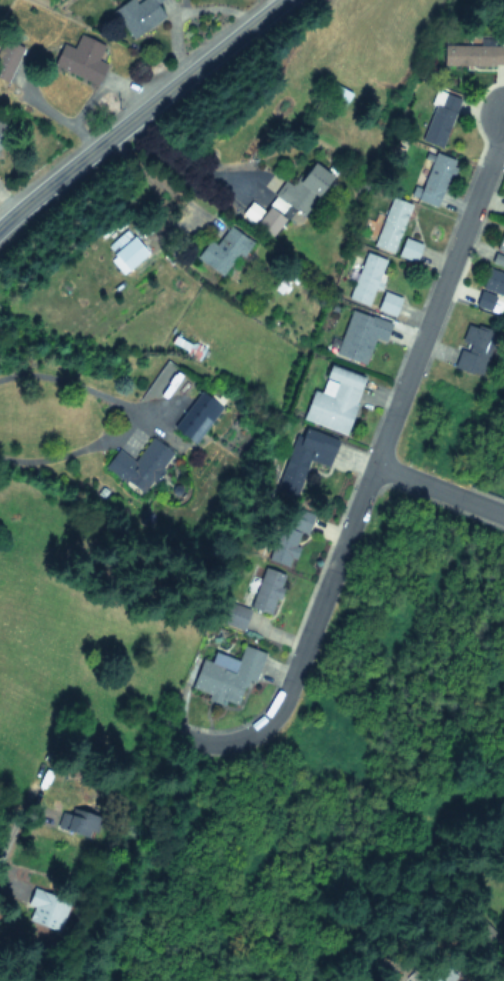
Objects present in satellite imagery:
road: (180, 9)
building: (137, 15)
building: (473, 54)
building: (8, 55)
building: (81, 58)
building: (335, 93)
road: (141, 112)
building: (439, 119)
building: (4, 138)
road: (187, 166)
building: (434, 179)
building: (292, 198)
building: (390, 224)
building: (500, 242)
building: (408, 249)
building: (125, 250)
building: (222, 251)
building: (365, 279)
building: (491, 291)
building: (387, 303)
building: (360, 335)
building: (474, 349)
building: (333, 399)
road: (117, 417)
building: (196, 417)
building: (303, 457)
building: (138, 465)
road: (373, 467)
road: (439, 489)
building: (286, 537)
building: (265, 590)
building: (231, 614)
road: (12, 663)
building: (226, 676)
building: (79, 824)
building: (42, 908)
building: (502, 922)
building: (437, 975)

